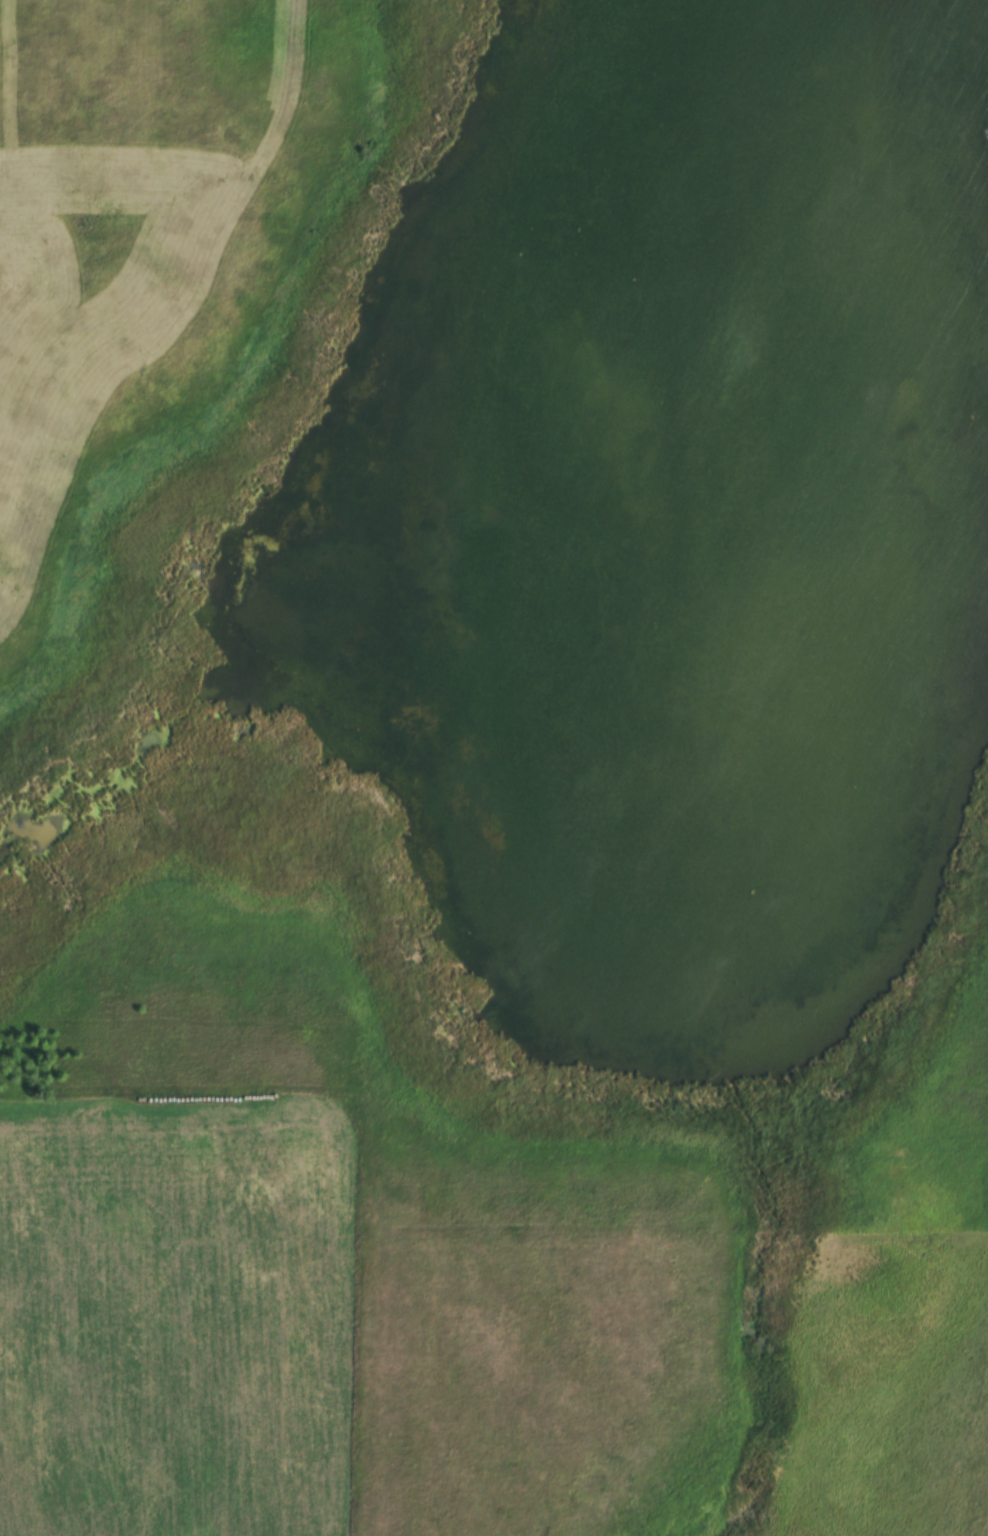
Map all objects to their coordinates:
river: (718, 617)
river: (181, 815)

